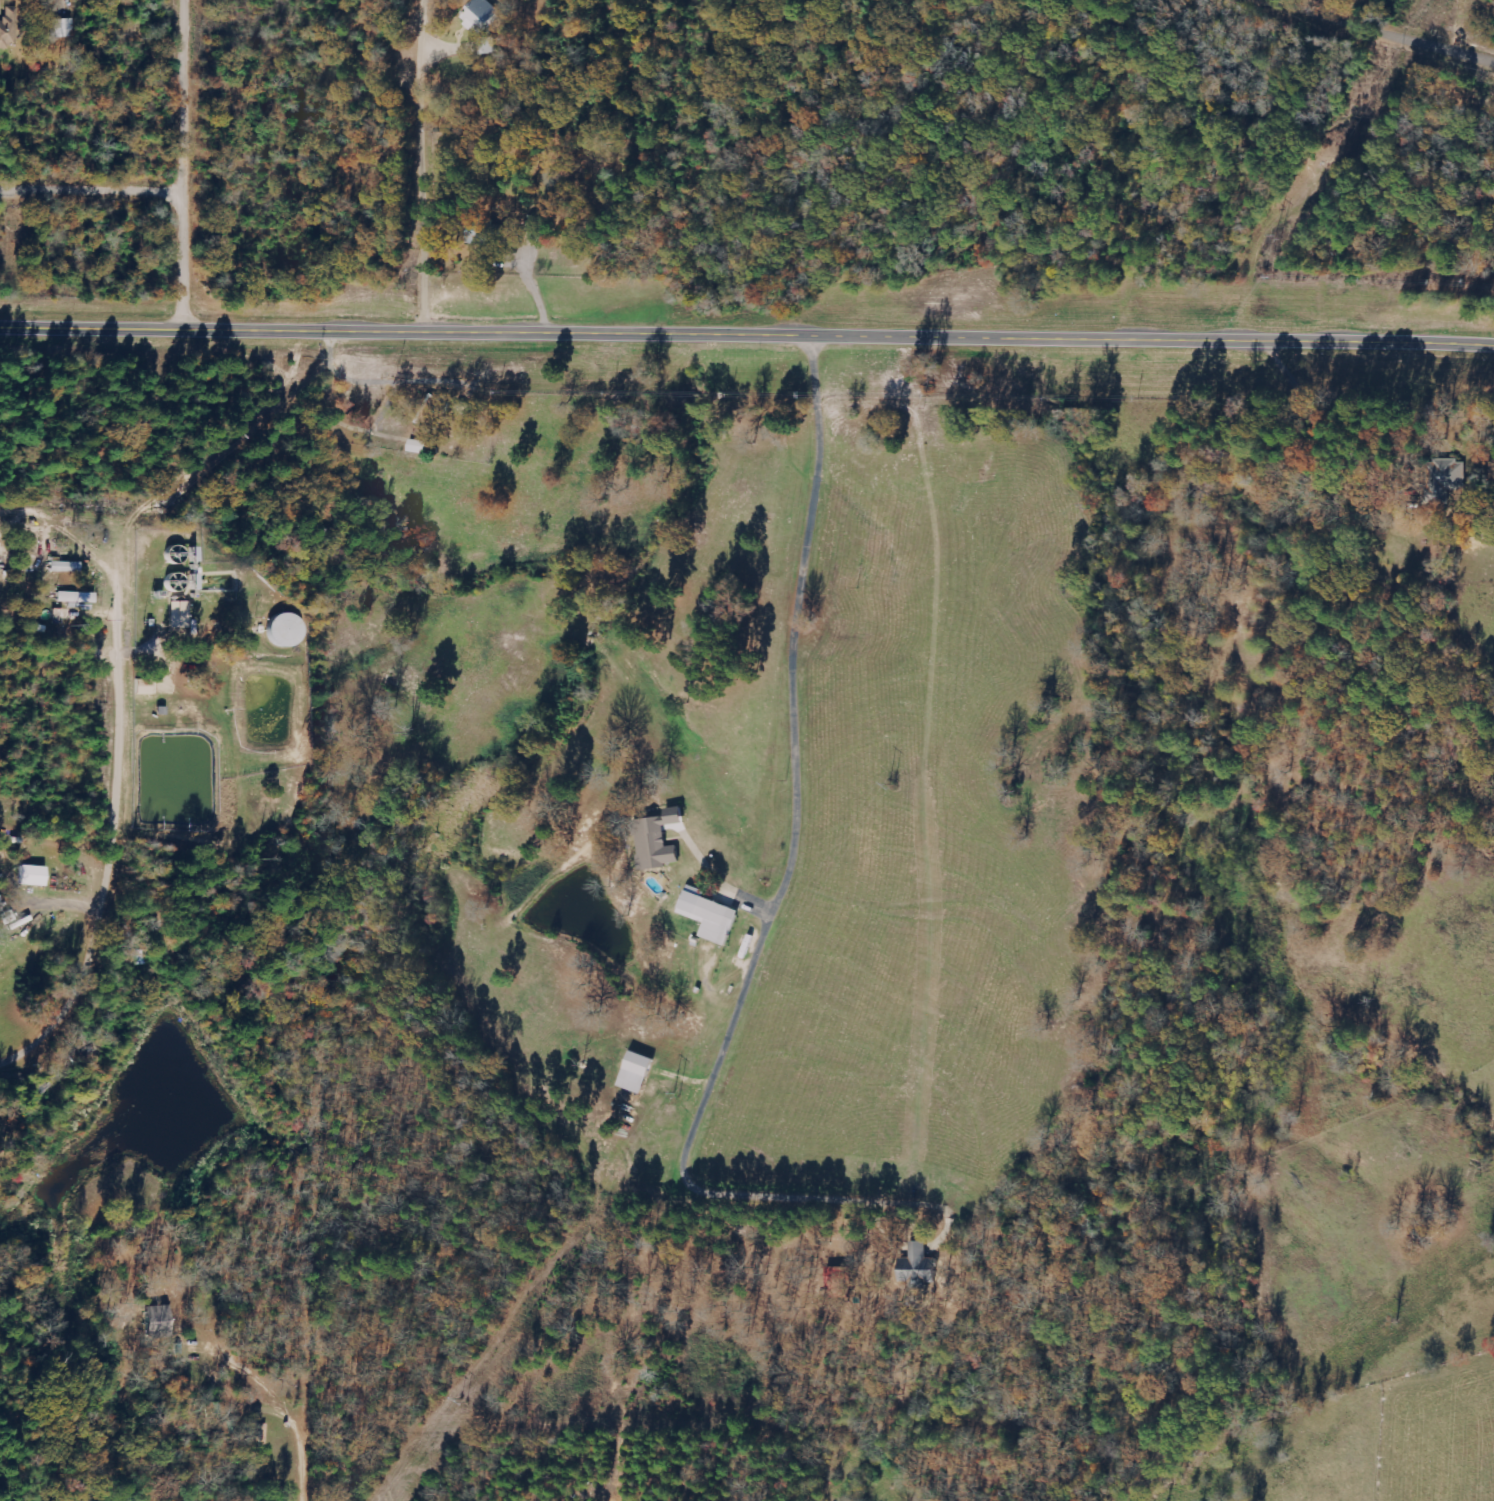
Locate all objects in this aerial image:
building: (481, 15)
building: (65, 28)
building: (5, 34)
road: (1388, 34)
road: (183, 166)
road: (421, 167)
road: (91, 193)
road: (884, 227)
power tower: (1275, 239)
road: (986, 279)
power tower: (1272, 280)
road: (1359, 282)
road: (747, 331)
power tower: (1184, 402)
building: (419, 447)
building: (1448, 480)
power tower: (1088, 509)
road: (72, 543)
building: (64, 567)
building: (76, 600)
building: (180, 616)
road: (790, 625)
building: (284, 631)
building: (143, 687)
power tower: (898, 784)
building: (656, 845)
road: (111, 857)
building: (31, 875)
building: (710, 915)
building: (636, 1072)
power tower: (677, 1097)
building: (838, 1281)
building: (157, 1321)
power tower: (466, 1400)

